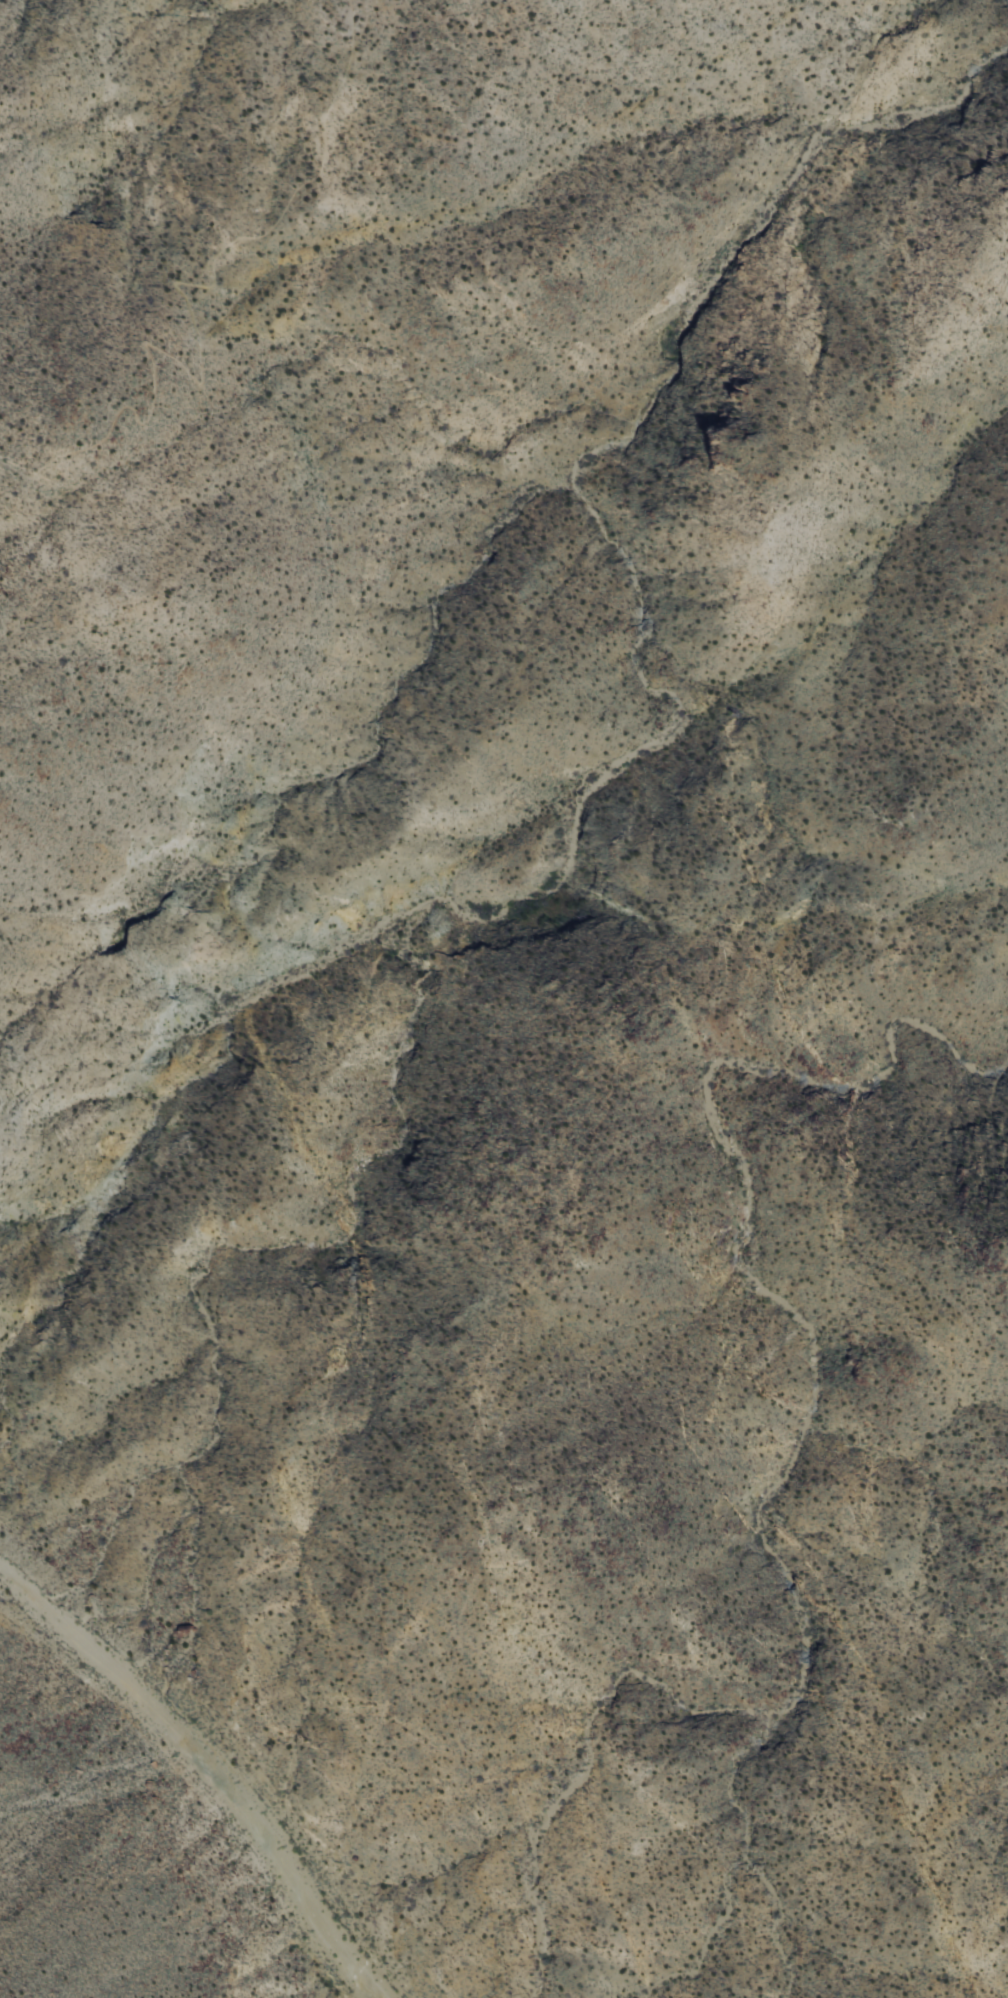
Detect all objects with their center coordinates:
road: (187, 304)
road: (209, 1764)

